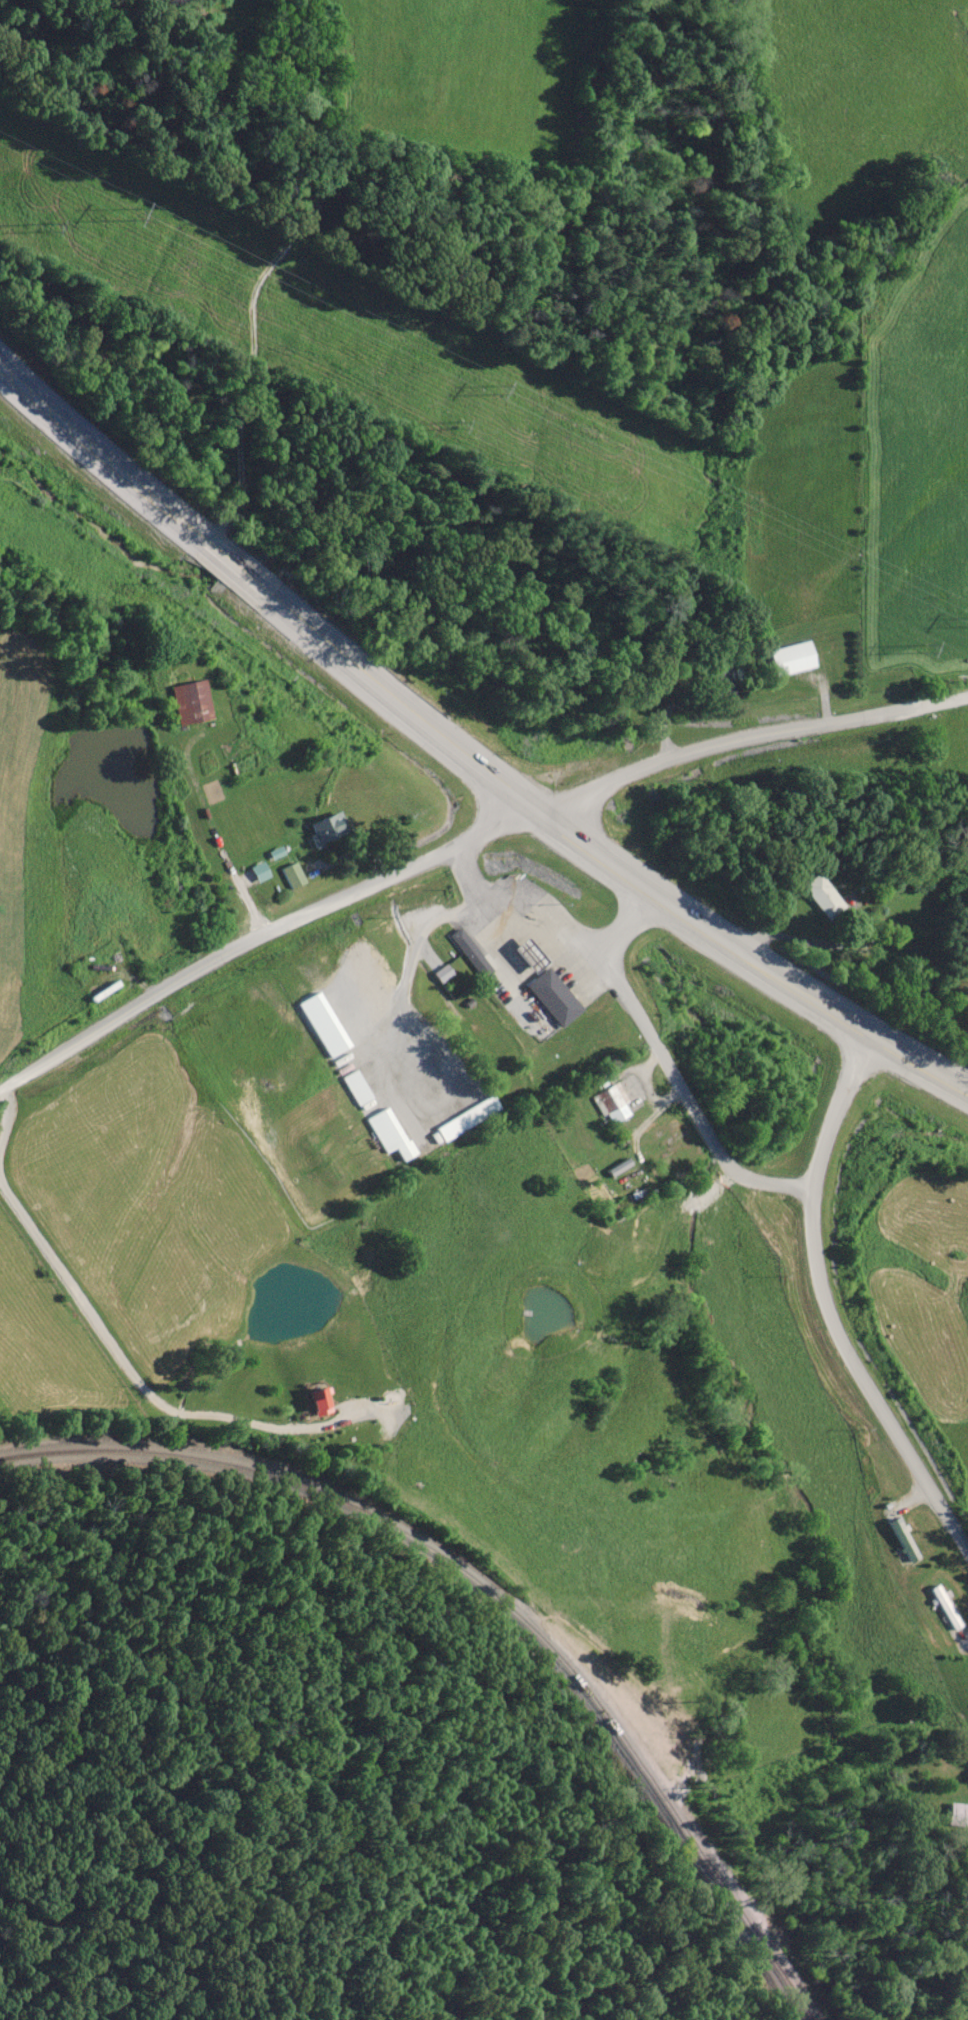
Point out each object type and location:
building: (793, 657)
building: (193, 701)
road: (748, 738)
road: (460, 748)
building: (327, 829)
building: (294, 874)
building: (824, 896)
road: (522, 900)
road: (267, 950)
building: (469, 950)
building: (443, 973)
building: (555, 996)
building: (356, 1088)
building: (613, 1103)
road: (837, 1104)
building: (467, 1117)
building: (390, 1133)
road: (806, 1190)
building: (906, 1539)
railway: (494, 1595)
building: (946, 1607)
building: (958, 1813)

